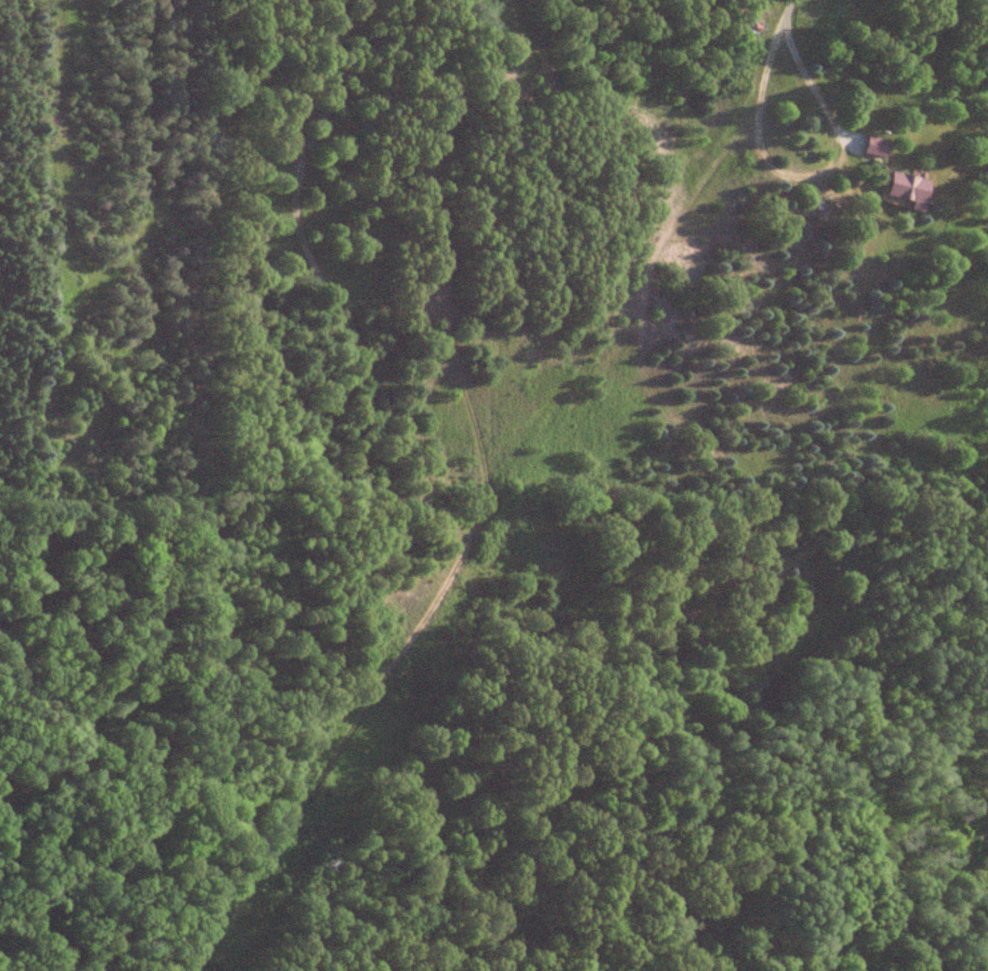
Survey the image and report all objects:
road: (795, 8)
building: (860, 95)
building: (876, 146)
road: (810, 175)
building: (909, 188)

